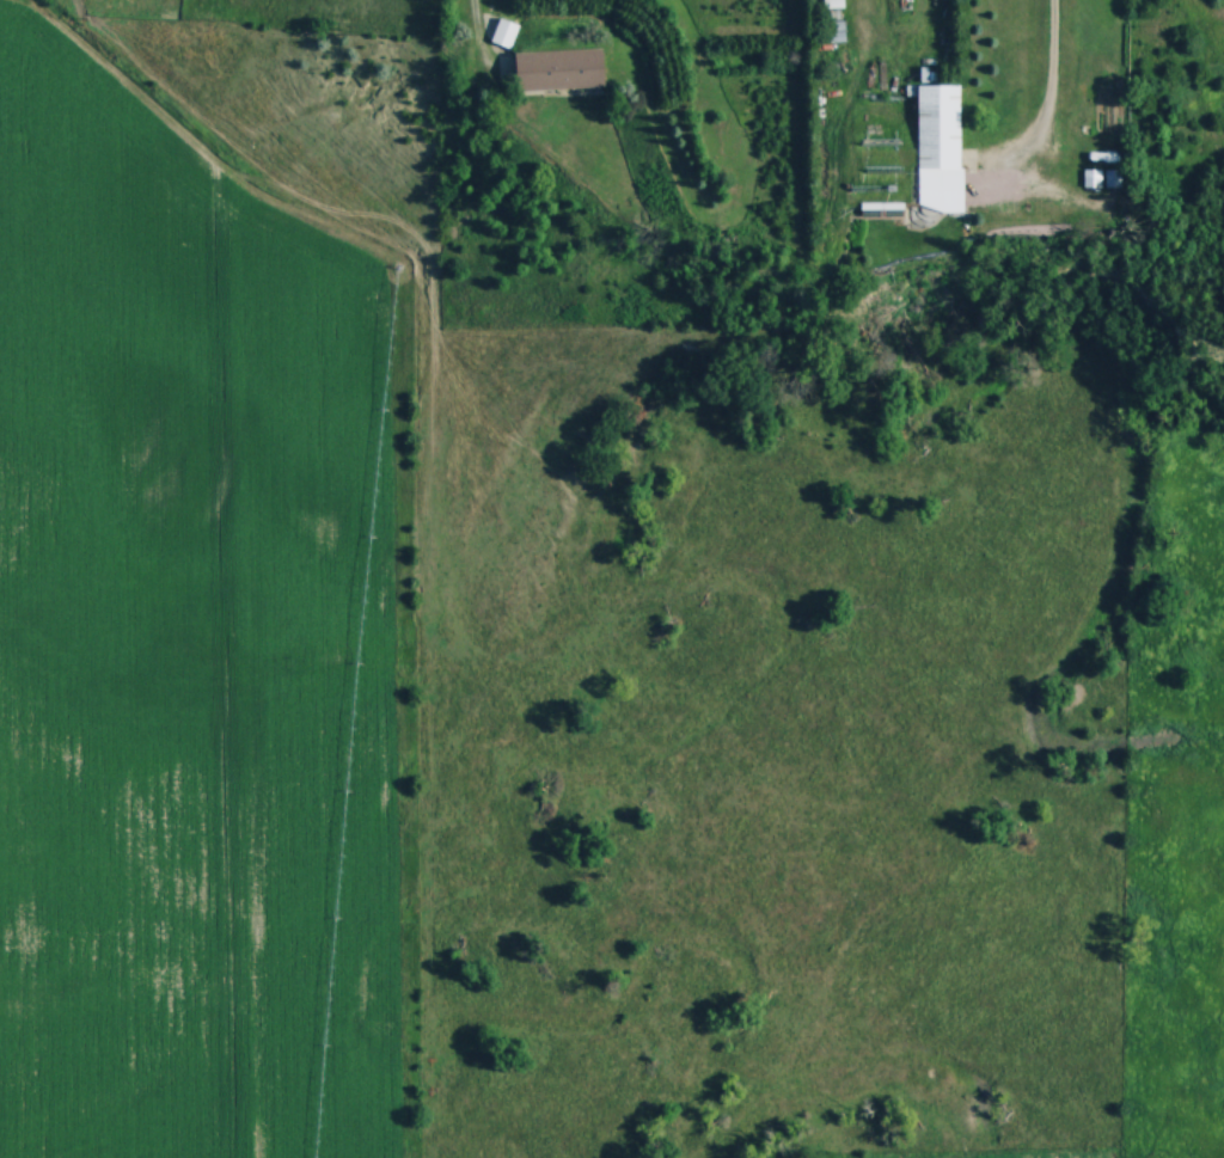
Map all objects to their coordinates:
road: (479, 32)
building: (507, 33)
road: (1048, 66)
building: (561, 67)
building: (941, 146)
building: (1102, 178)

